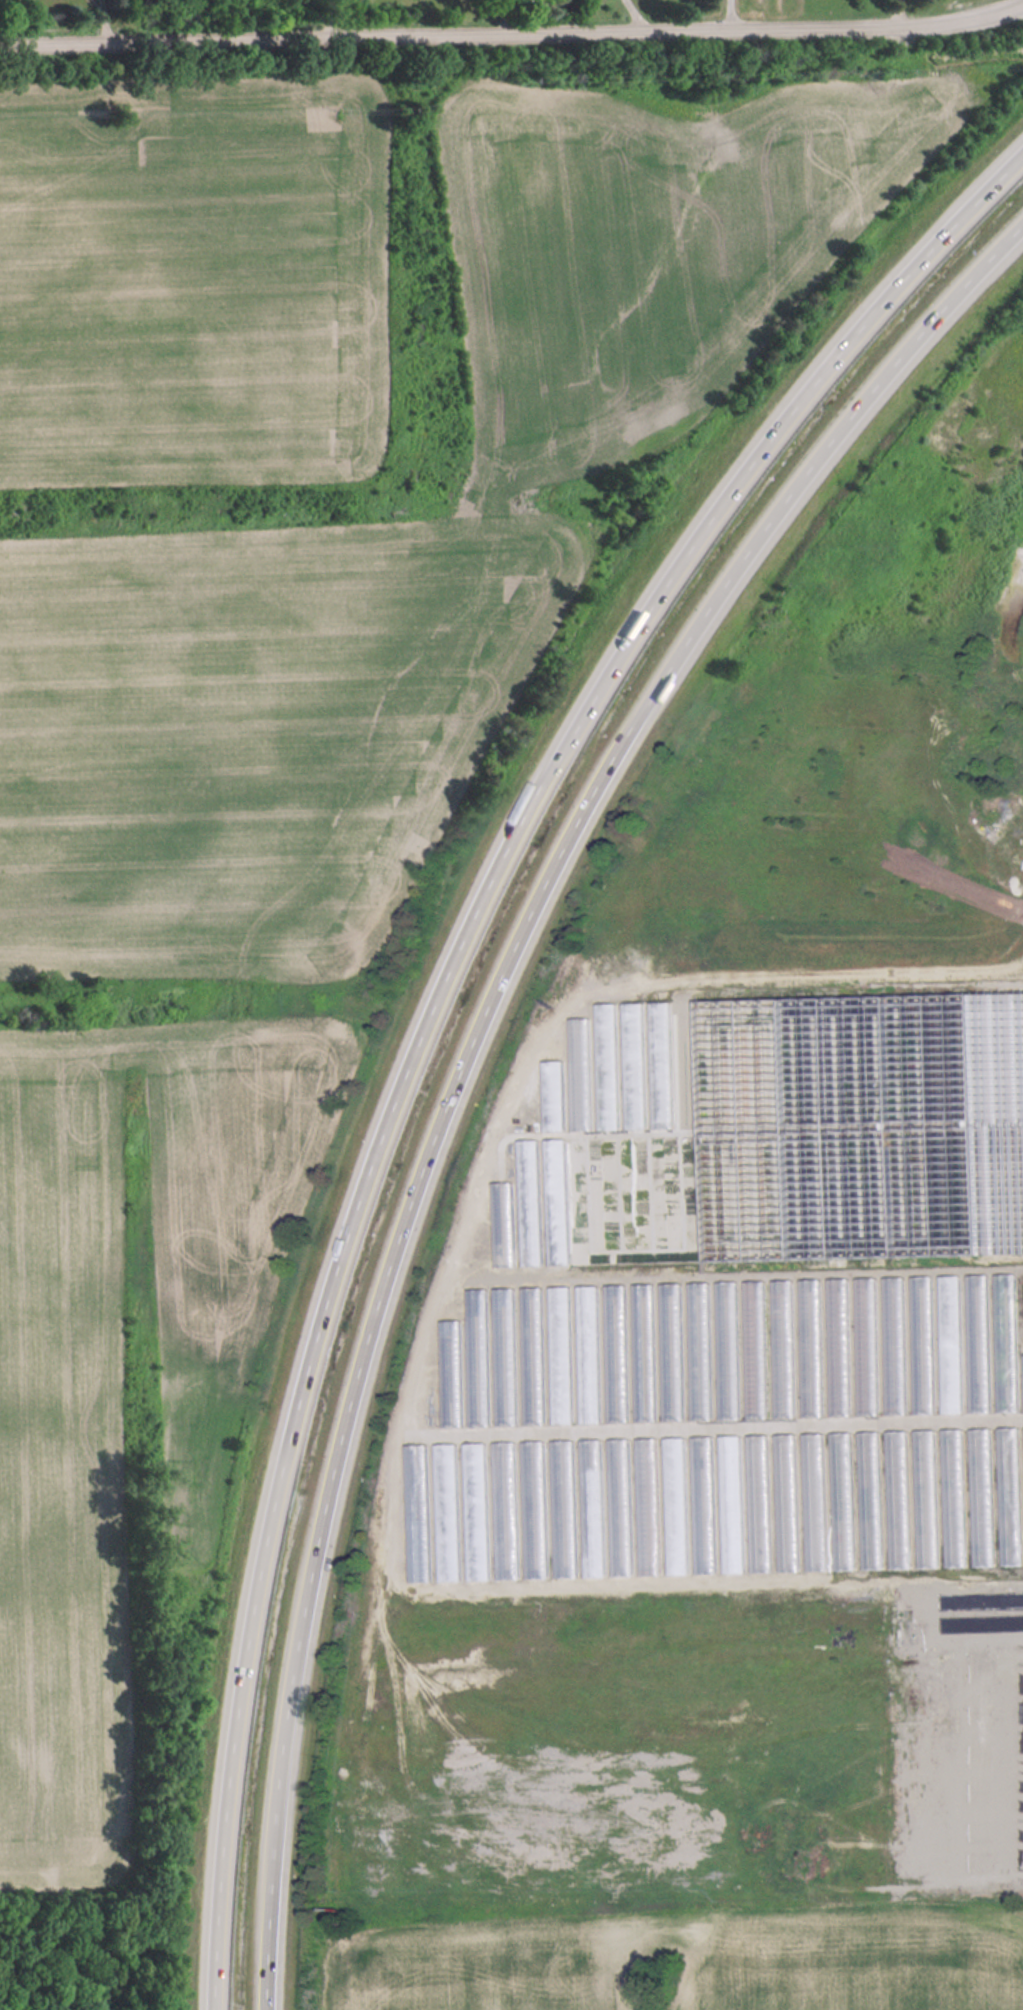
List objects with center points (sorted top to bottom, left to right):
road: (1020, 4)
road: (98, 5)
road: (103, 5)
road: (900, 13)
road: (640, 15)
road: (729, 16)
road: (327, 18)
road: (106, 24)
road: (512, 33)
road: (443, 1006)
road: (481, 1051)
building: (553, 1094)
building: (864, 1103)
building: (557, 1201)
building: (529, 1202)
building: (502, 1224)
building: (1006, 1342)
building: (978, 1343)
building: (923, 1344)
building: (951, 1344)
building: (895, 1345)
building: (867, 1346)
building: (811, 1347)
building: (839, 1347)
building: (783, 1348)
building: (756, 1349)
building: (728, 1350)
building: (672, 1351)
building: (700, 1351)
building: (644, 1352)
building: (617, 1353)
building: (589, 1354)
building: (533, 1355)
building: (560, 1355)
building: (505, 1356)
building: (477, 1357)
building: (450, 1374)
building: (870, 1469)
building: (1010, 1496)
building: (954, 1497)
building: (982, 1497)
building: (926, 1498)
building: (898, 1499)
building: (814, 1501)
building: (842, 1501)
building: (787, 1502)
building: (759, 1503)
building: (731, 1504)
building: (703, 1505)
building: (648, 1506)
building: (676, 1506)
building: (620, 1507)
building: (563, 1508)
building: (592, 1508)
building: (534, 1509)
building: (505, 1510)
building: (475, 1511)
building: (446, 1512)
building: (416, 1513)
building: (875, 1542)

